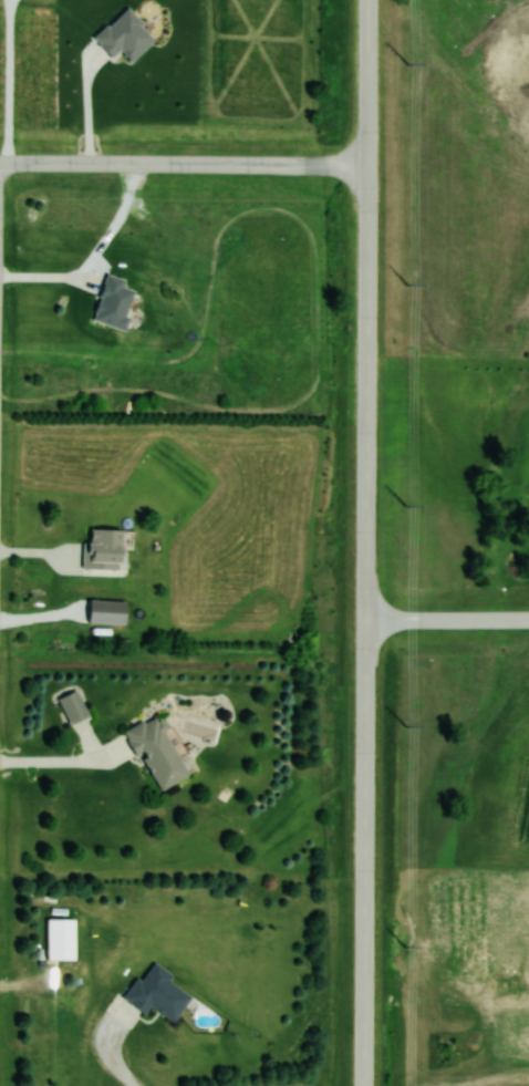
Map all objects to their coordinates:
power tower: (408, 64)
road: (10, 81)
road: (89, 107)
road: (184, 165)
road: (94, 258)
power tower: (408, 283)
building: (113, 301)
power tower: (406, 506)
road: (365, 542)
building: (102, 547)
road: (447, 620)
building: (73, 707)
power tower: (406, 727)
building: (156, 754)
road: (59, 763)
building: (60, 940)
power tower: (406, 947)
building: (157, 992)
road: (112, 1054)

